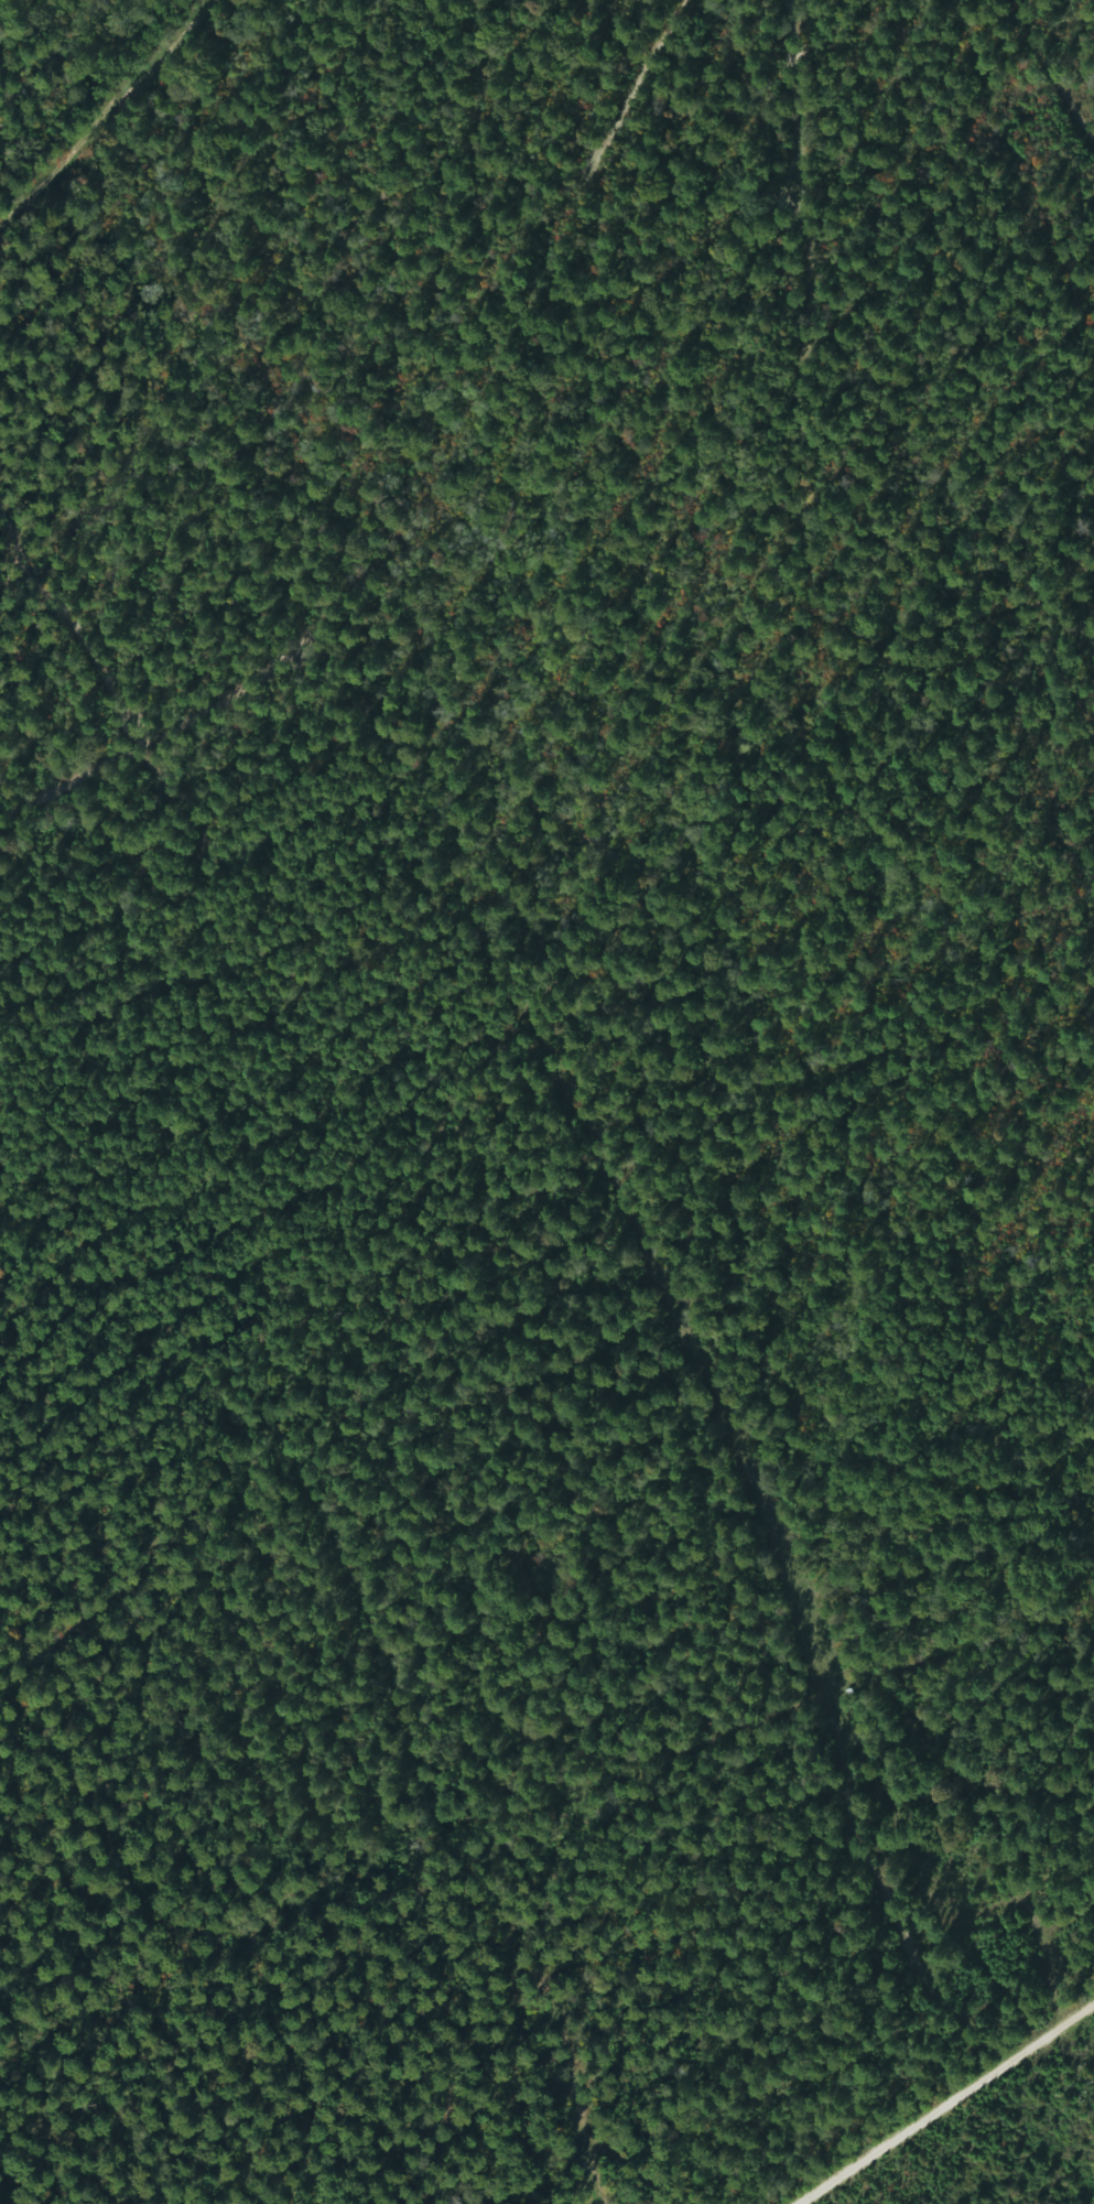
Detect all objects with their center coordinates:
road: (99, 109)
road: (931, 2094)

